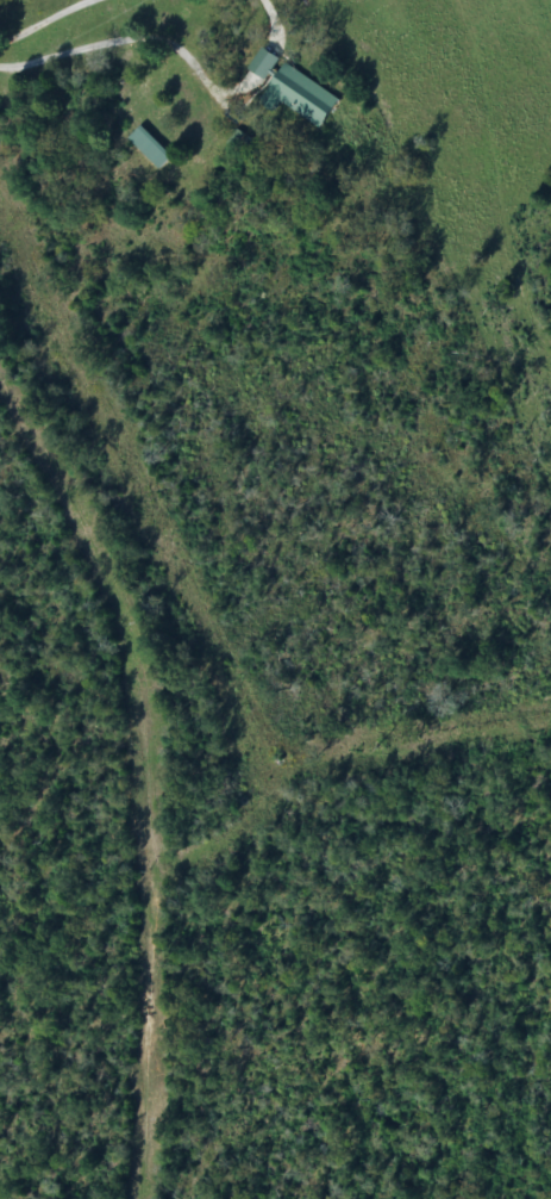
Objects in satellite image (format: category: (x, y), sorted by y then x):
building: (267, 64)
building: (302, 98)
building: (152, 148)
road: (152, 803)

